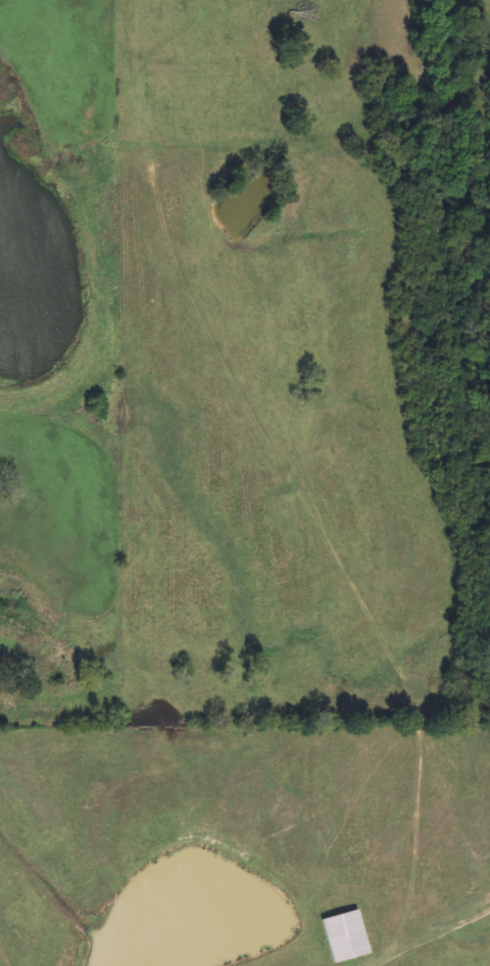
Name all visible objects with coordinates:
building: (342, 936)

